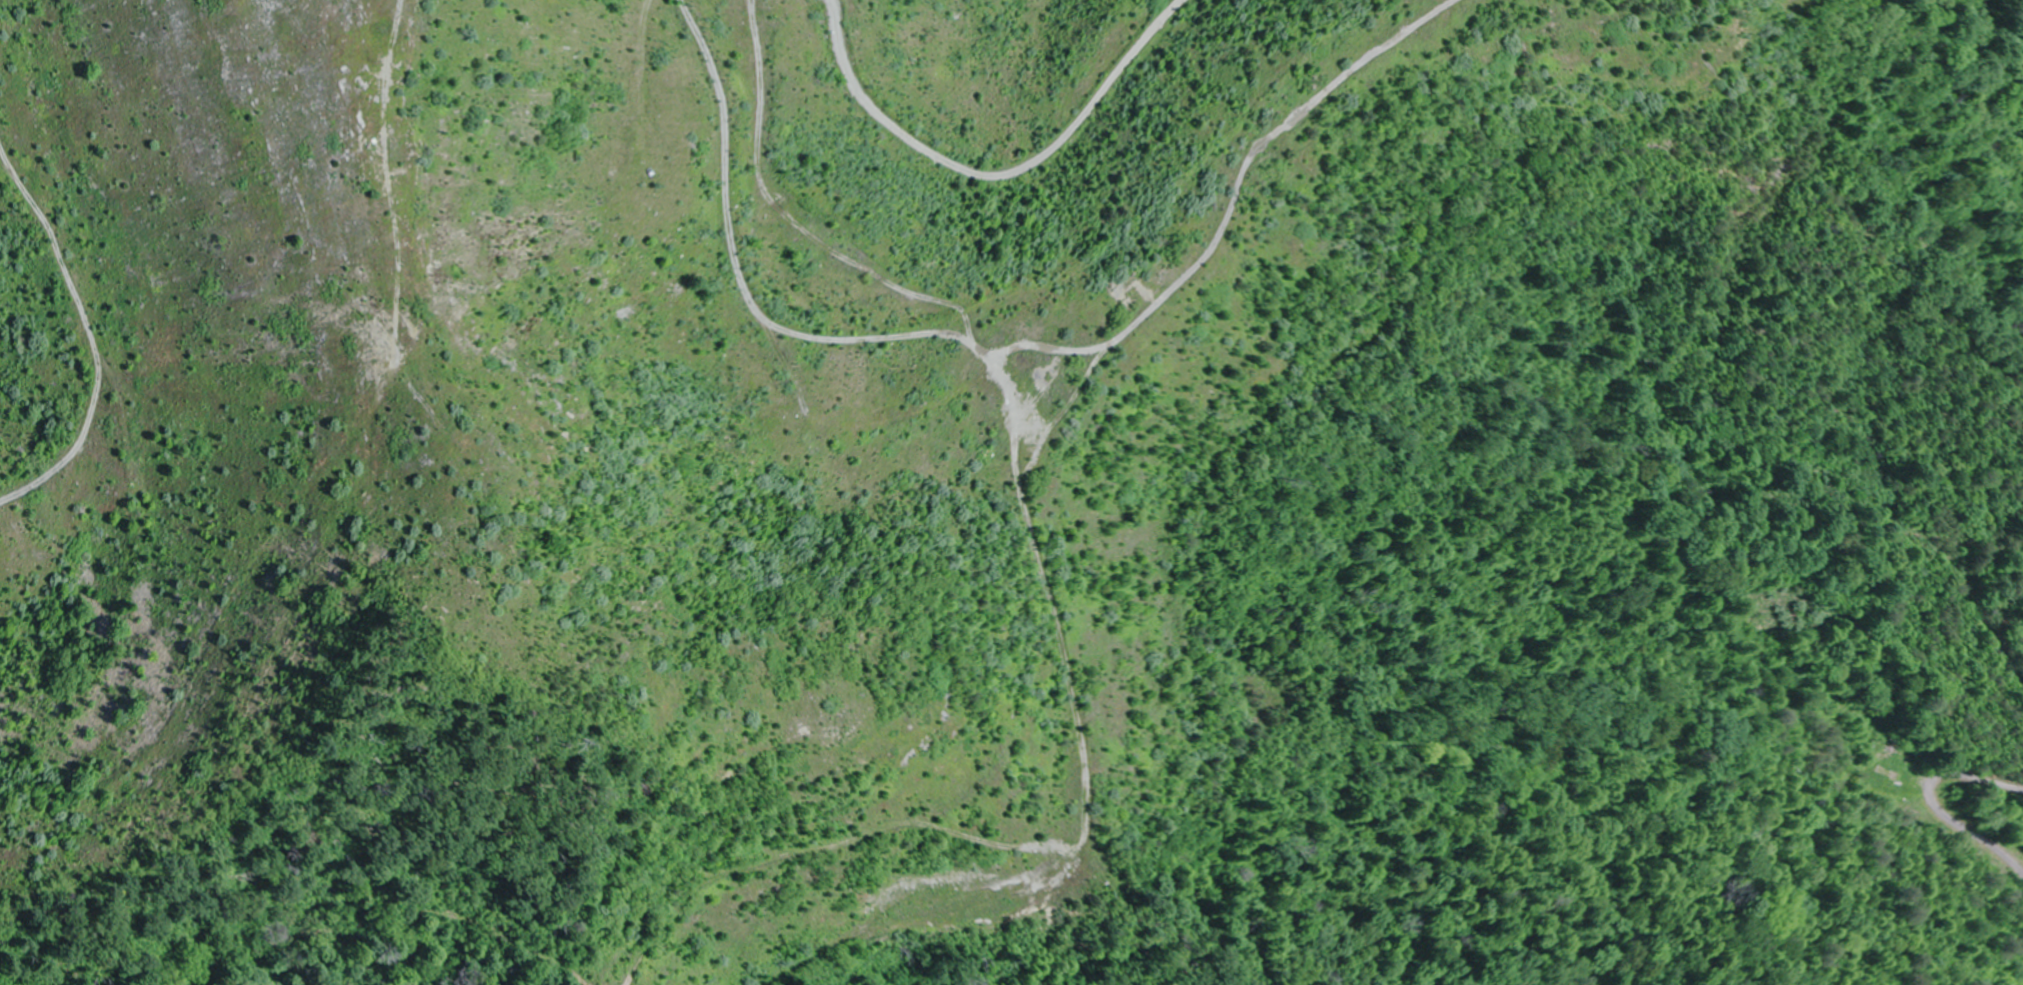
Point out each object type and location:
building: (1889, 767)
road: (1948, 777)

